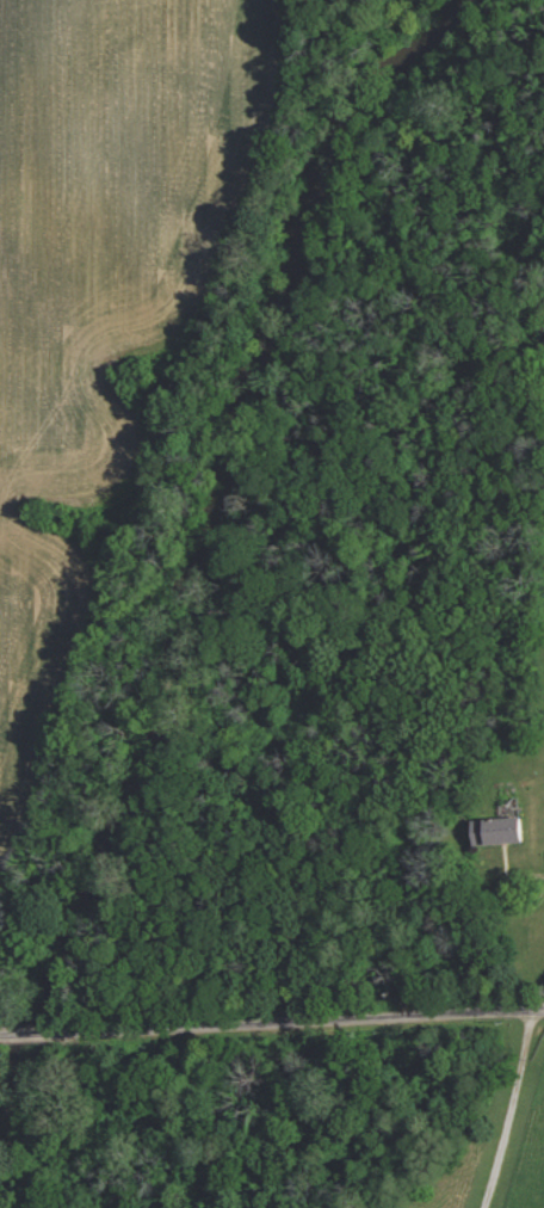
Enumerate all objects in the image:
building: (494, 831)
road: (502, 898)
road: (272, 1018)
road: (511, 1099)

